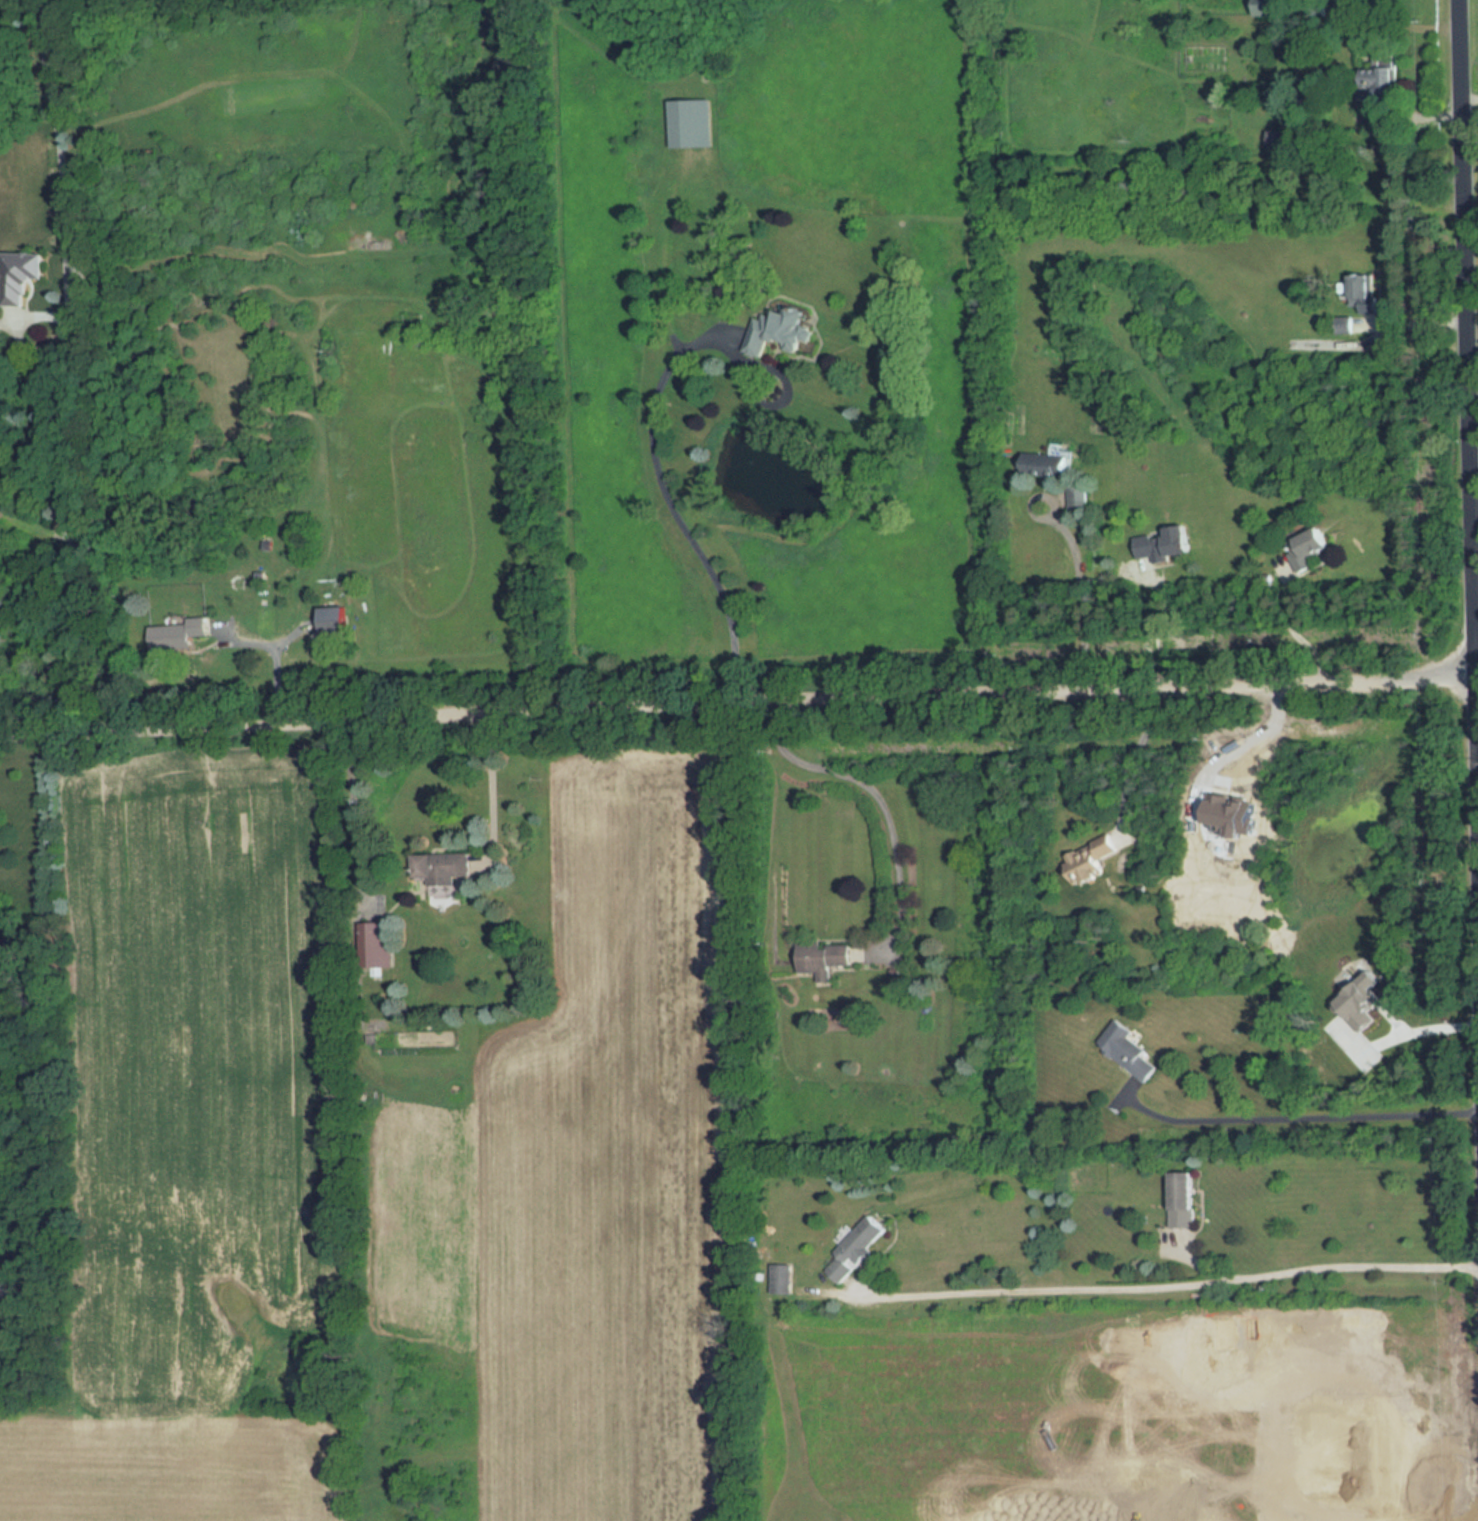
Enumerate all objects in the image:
building: (1269, 7)
building: (1385, 81)
road: (1469, 96)
building: (690, 122)
road: (1470, 124)
building: (1278, 138)
building: (21, 274)
building: (1363, 292)
road: (1413, 319)
building: (1344, 325)
building: (776, 330)
road: (76, 364)
road: (1468, 430)
building: (1048, 464)
building: (1077, 497)
road: (668, 498)
building: (1164, 543)
building: (1302, 555)
road: (1080, 597)
building: (333, 620)
road: (1157, 631)
road: (273, 651)
road: (738, 702)
road: (1257, 732)
road: (1133, 762)
road: (491, 788)
road: (873, 795)
road: (1477, 820)
building: (1090, 858)
building: (442, 867)
building: (377, 943)
building: (823, 958)
road: (1406, 1032)
building: (1129, 1050)
road: (1303, 1114)
building: (1184, 1199)
building: (857, 1247)
road: (1164, 1286)
road: (1326, 1378)

